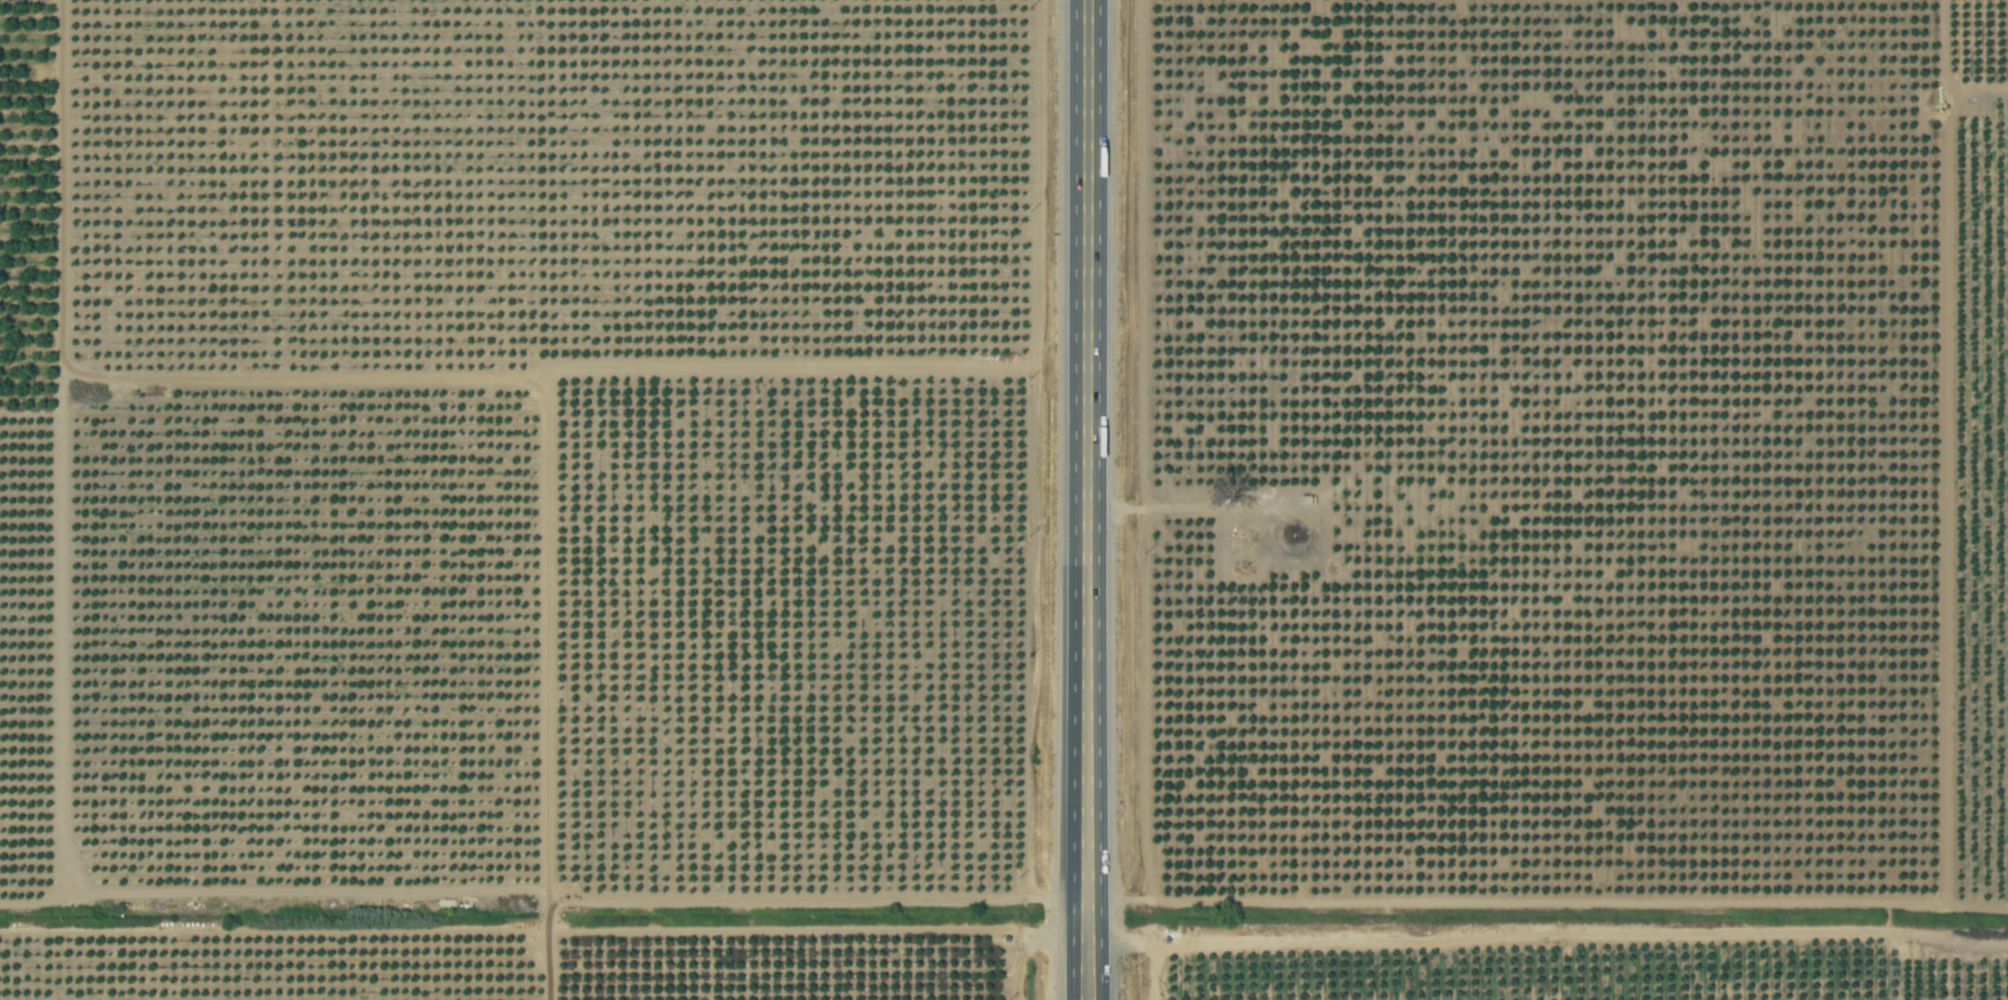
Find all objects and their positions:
road: (1087, 500)

